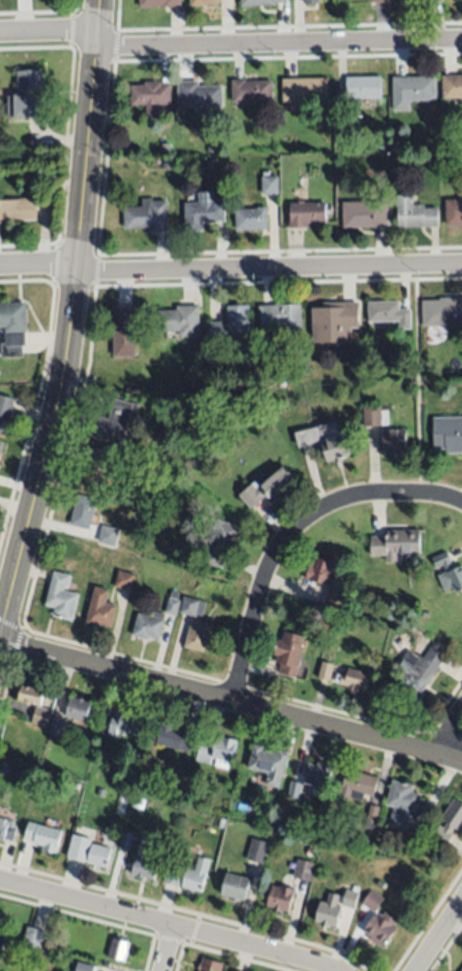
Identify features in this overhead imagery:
building: (402, 0)
building: (434, 0)
building: (378, 1)
building: (417, 1)
building: (201, 2)
building: (259, 2)
building: (311, 2)
building: (159, 3)
road: (49, 30)
road: (279, 43)
building: (452, 87)
building: (304, 90)
building: (357, 90)
building: (251, 91)
building: (412, 91)
building: (199, 94)
building: (151, 96)
building: (27, 97)
building: (165, 146)
building: (213, 146)
building: (210, 163)
building: (165, 164)
building: (270, 185)
building: (17, 208)
building: (203, 210)
building: (453, 212)
building: (415, 213)
building: (306, 214)
building: (364, 214)
building: (148, 216)
building: (251, 219)
road: (38, 263)
road: (269, 269)
road: (55, 270)
building: (388, 313)
building: (442, 313)
building: (283, 318)
building: (179, 320)
road: (71, 321)
building: (334, 323)
building: (13, 325)
building: (231, 326)
building: (123, 331)
road: (88, 357)
building: (5, 413)
building: (375, 416)
building: (115, 421)
building: (448, 434)
building: (372, 436)
building: (326, 440)
building: (394, 440)
building: (1, 448)
building: (94, 469)
building: (268, 487)
building: (82, 512)
road: (293, 532)
building: (107, 536)
building: (221, 542)
building: (396, 544)
building: (319, 572)
building: (449, 573)
building: (124, 580)
building: (335, 591)
building: (60, 596)
building: (172, 604)
building: (191, 606)
building: (100, 609)
building: (148, 626)
building: (197, 635)
building: (289, 653)
building: (325, 670)
building: (418, 672)
building: (353, 680)
building: (31, 695)
road: (231, 700)
building: (77, 709)
building: (40, 716)
building: (124, 724)
building: (55, 727)
road: (449, 733)
building: (172, 737)
building: (216, 751)
building: (268, 764)
building: (318, 775)
building: (127, 782)
building: (357, 785)
building: (294, 789)
building: (125, 796)
building: (402, 803)
building: (372, 817)
building: (220, 822)
building: (265, 822)
building: (449, 822)
building: (6, 829)
building: (43, 837)
building: (125, 840)
building: (79, 846)
building: (257, 851)
building: (98, 854)
building: (144, 869)
building: (303, 870)
building: (173, 874)
building: (196, 875)
building: (235, 887)
building: (280, 898)
building: (349, 899)
building: (372, 902)
building: (327, 914)
road: (169, 925)
building: (380, 929)
road: (438, 935)
building: (33, 936)
building: (1, 944)
road: (169, 949)
building: (116, 951)
building: (209, 965)
building: (85, 966)
building: (235, 970)
building: (461, 970)

